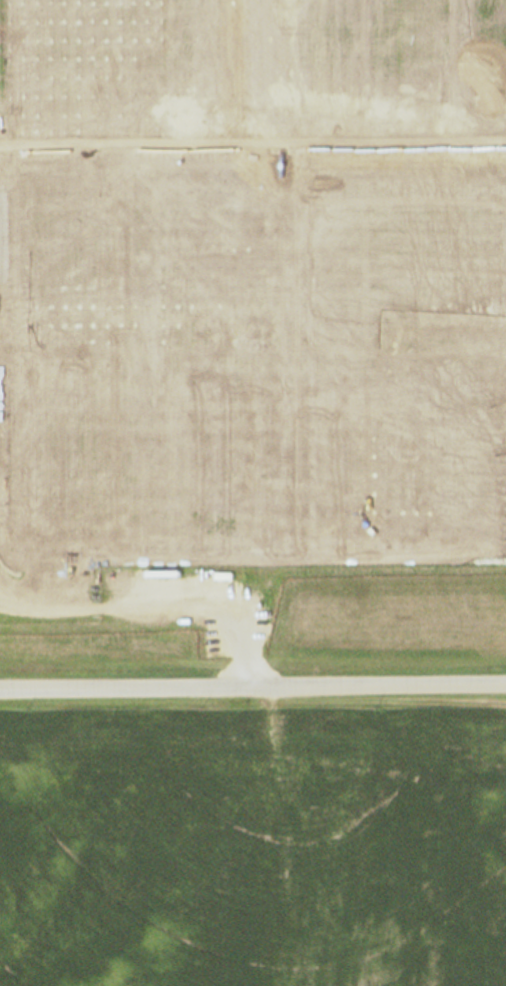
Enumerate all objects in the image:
road: (253, 694)

